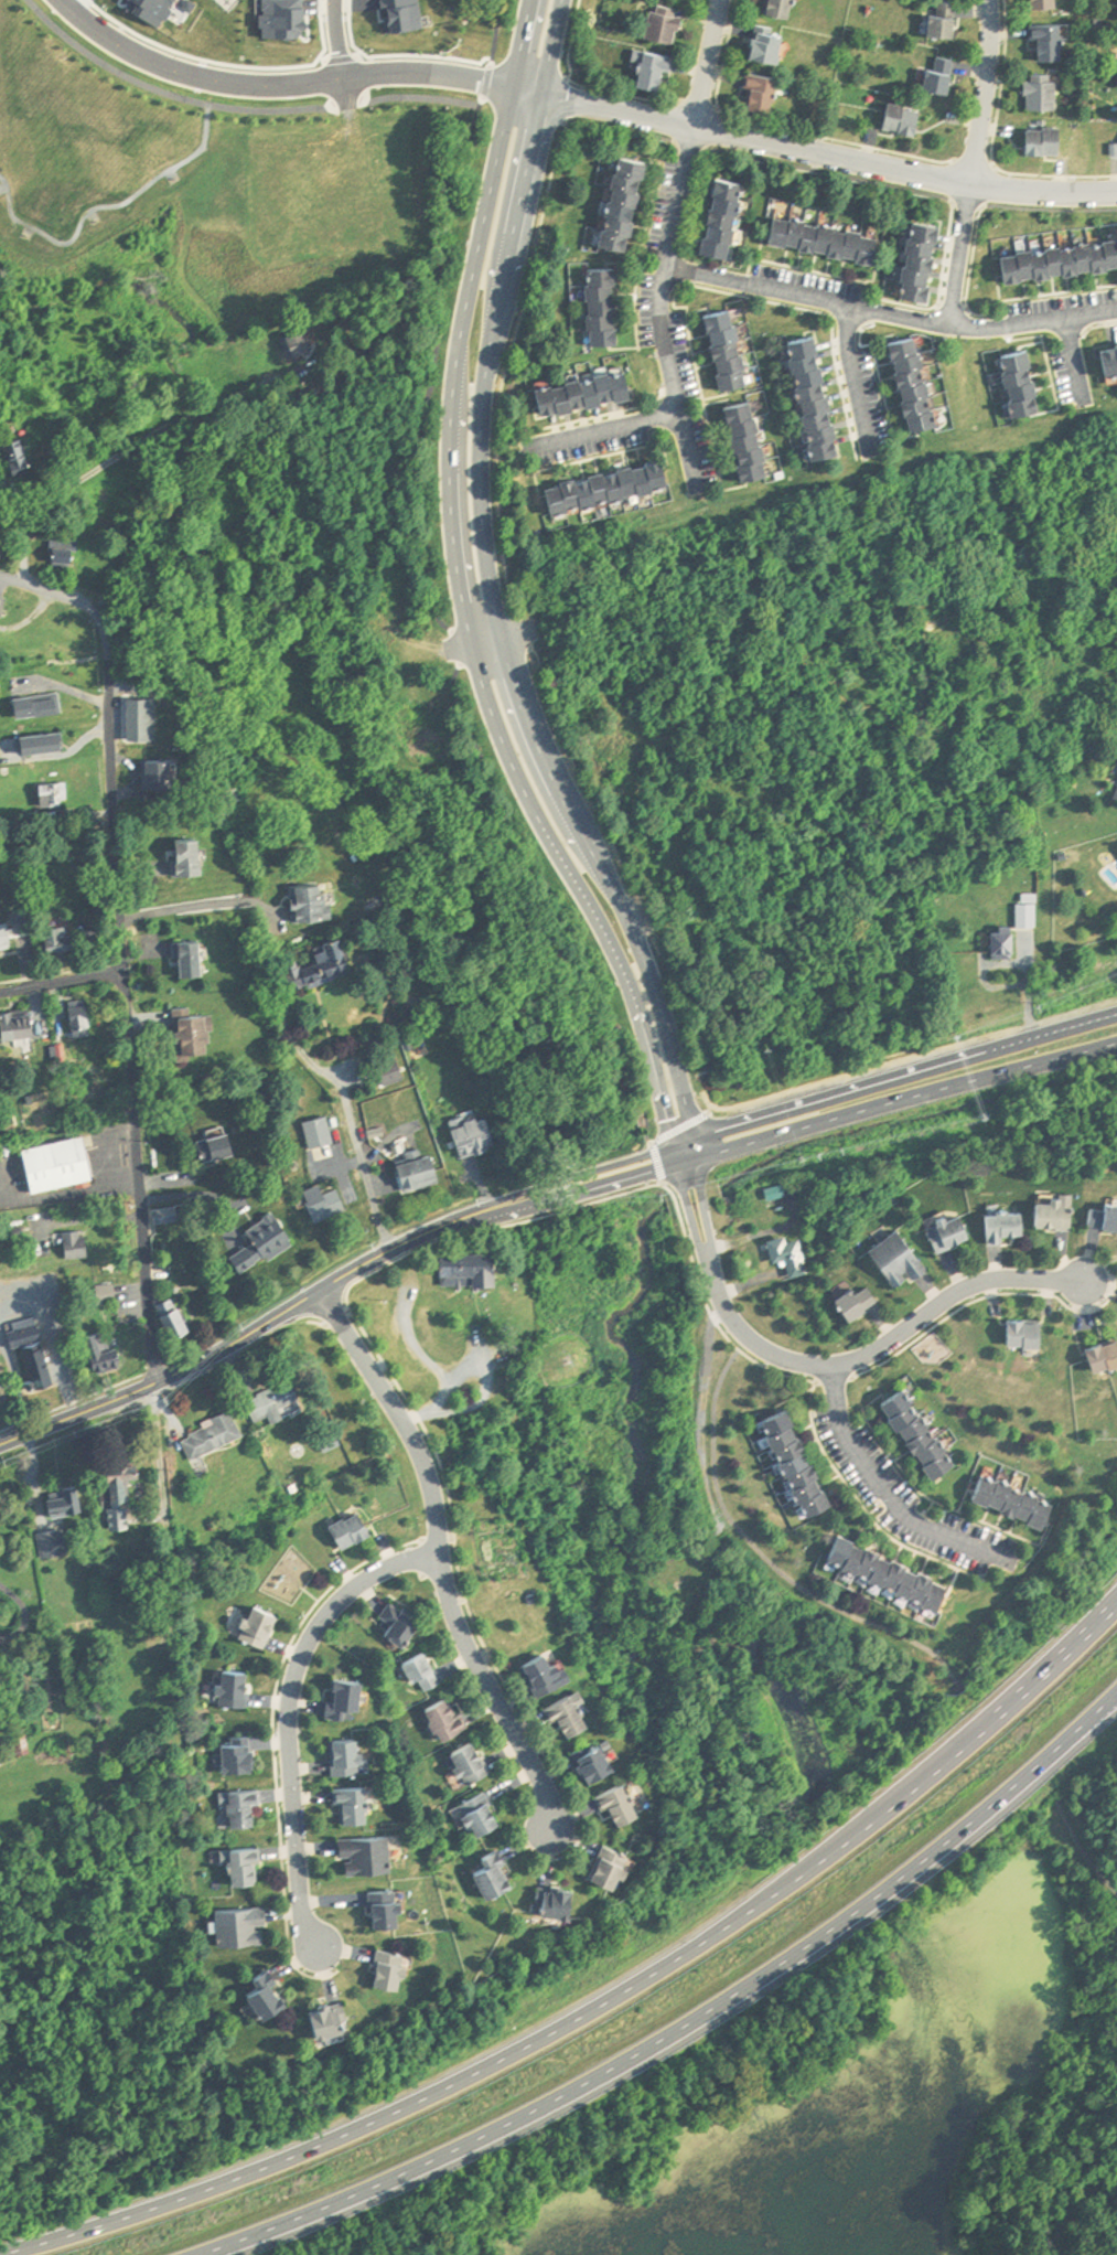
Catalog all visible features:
road: (92, 3)
building: (1049, 3)
road: (78, 7)
building: (784, 8)
building: (949, 20)
building: (667, 25)
road: (335, 39)
building: (1054, 41)
building: (772, 45)
road: (340, 55)
road: (395, 55)
road: (232, 63)
road: (700, 63)
building: (659, 72)
building: (945, 77)
road: (284, 85)
road: (977, 92)
building: (1046, 93)
building: (767, 94)
building: (907, 119)
building: (1052, 141)
road: (821, 154)
building: (629, 205)
building: (728, 220)
building: (830, 239)
road: (952, 255)
building: (1059, 256)
building: (926, 260)
road: (802, 298)
building: (608, 308)
road: (658, 314)
road: (1031, 322)
building: (300, 345)
building: (731, 351)
building: (1109, 354)
road: (1067, 365)
building: (912, 378)
building: (1019, 378)
road: (842, 381)
building: (812, 393)
building: (587, 395)
road: (597, 435)
building: (752, 442)
road: (473, 449)
road: (120, 451)
building: (20, 458)
building: (614, 488)
building: (68, 560)
road: (11, 577)
building: (42, 706)
building: (143, 719)
building: (57, 746)
building: (55, 798)
building: (233, 800)
building: (193, 861)
building: (313, 905)
road: (194, 906)
building: (1029, 917)
building: (64, 941)
building: (8, 942)
building: (1008, 944)
road: (119, 960)
building: (322, 968)
road: (60, 986)
road: (669, 1013)
building: (84, 1018)
road: (648, 1019)
building: (22, 1027)
building: (200, 1036)
building: (393, 1075)
road: (814, 1103)
road: (816, 1126)
building: (322, 1135)
building: (479, 1137)
building: (221, 1150)
road: (361, 1161)
building: (58, 1166)
building: (425, 1174)
road: (71, 1194)
building: (331, 1206)
road: (704, 1215)
building: (1061, 1215)
road: (695, 1217)
building: (1107, 1219)
building: (1011, 1229)
building: (954, 1235)
building: (268, 1243)
building: (78, 1247)
building: (791, 1257)
building: (901, 1262)
building: (473, 1271)
building: (214, 1285)
building: (108, 1293)
building: (857, 1304)
building: (171, 1322)
road: (259, 1328)
building: (1029, 1335)
road: (880, 1345)
building: (34, 1349)
building: (107, 1353)
building: (1105, 1358)
road: (482, 1390)
building: (278, 1401)
road: (396, 1415)
building: (922, 1433)
building: (216, 1434)
building: (802, 1462)
building: (127, 1478)
road: (891, 1497)
building: (1018, 1499)
building: (68, 1500)
building: (355, 1529)
building: (55, 1542)
road: (761, 1556)
building: (895, 1570)
road: (14, 1609)
building: (404, 1622)
building: (261, 1627)
building: (427, 1672)
building: (552, 1674)
building: (237, 1688)
building: (346, 1697)
road: (492, 1697)
road: (284, 1714)
building: (574, 1714)
building: (3, 1716)
building: (449, 1720)
building: (132, 1729)
building: (240, 1756)
building: (350, 1757)
building: (600, 1761)
building: (474, 1763)
building: (625, 1803)
building: (355, 1806)
building: (244, 1807)
building: (484, 1813)
road: (1082, 1851)
building: (369, 1855)
building: (249, 1866)
building: (616, 1867)
building: (500, 1874)
building: (562, 1901)
building: (391, 1907)
building: (245, 1926)
building: (395, 1969)
building: (270, 1994)
road: (600, 1999)
building: (332, 2020)
road: (685, 2023)
road: (1073, 2205)

